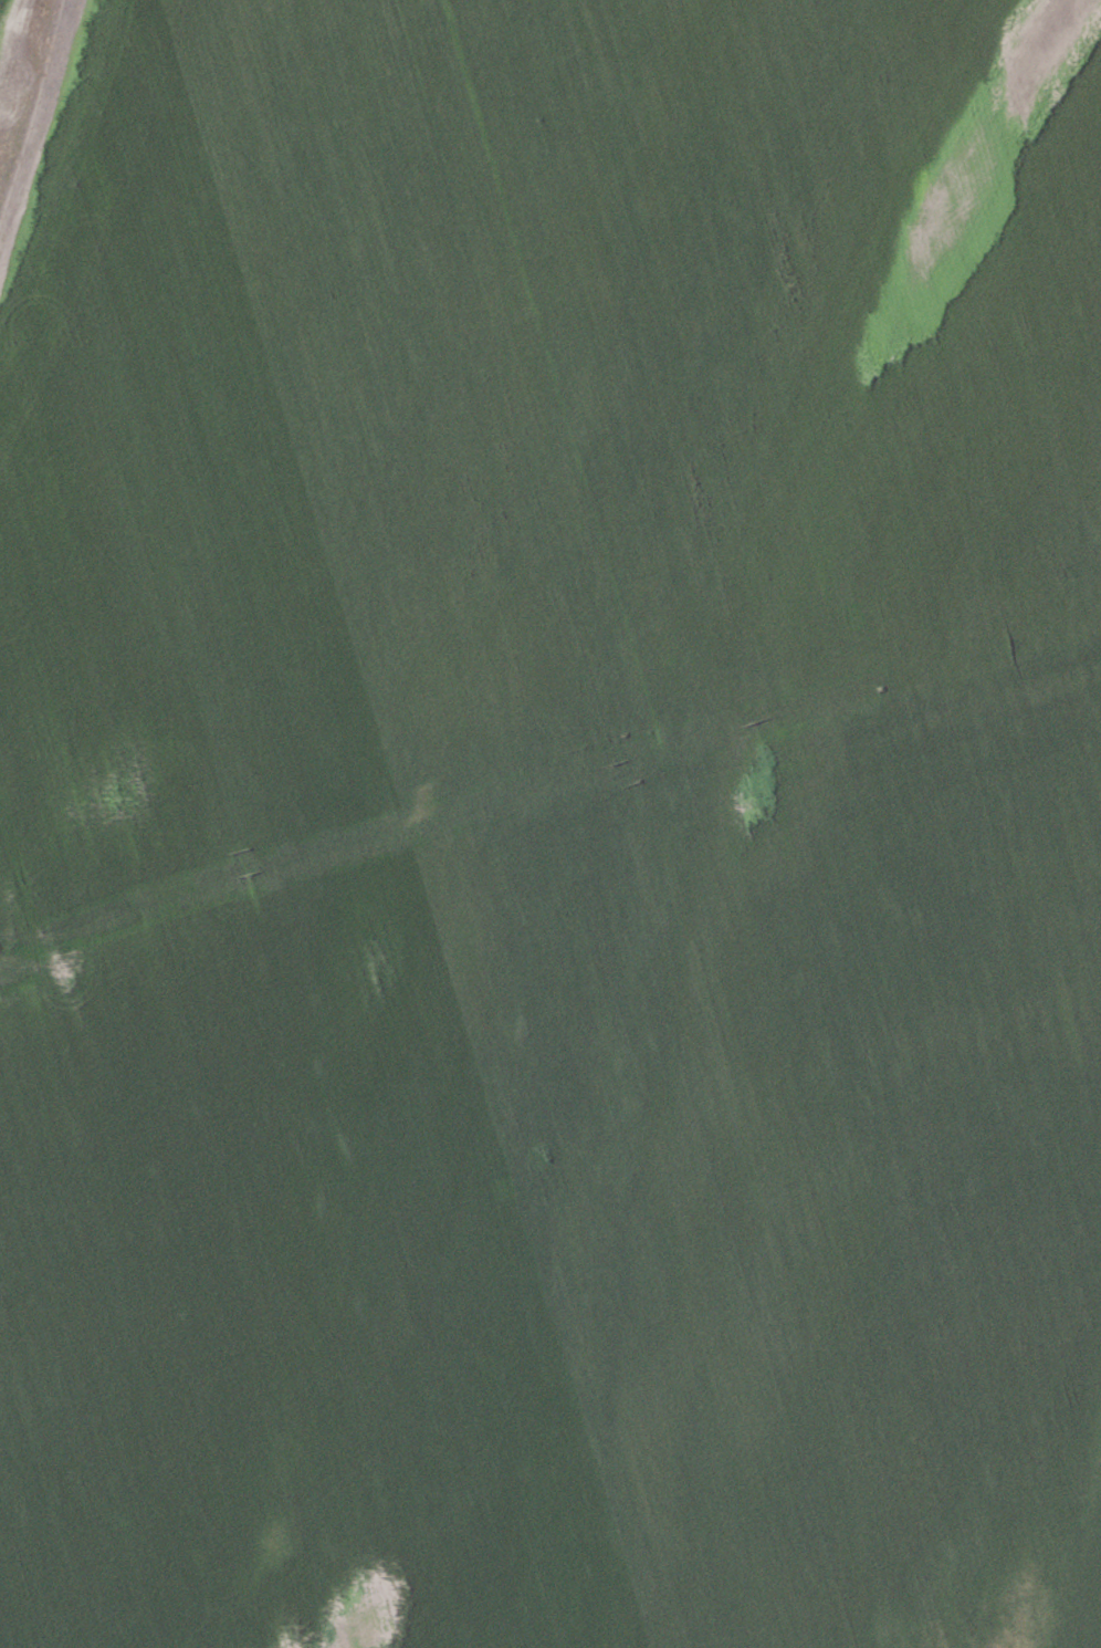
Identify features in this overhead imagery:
crop: (550, 824)

